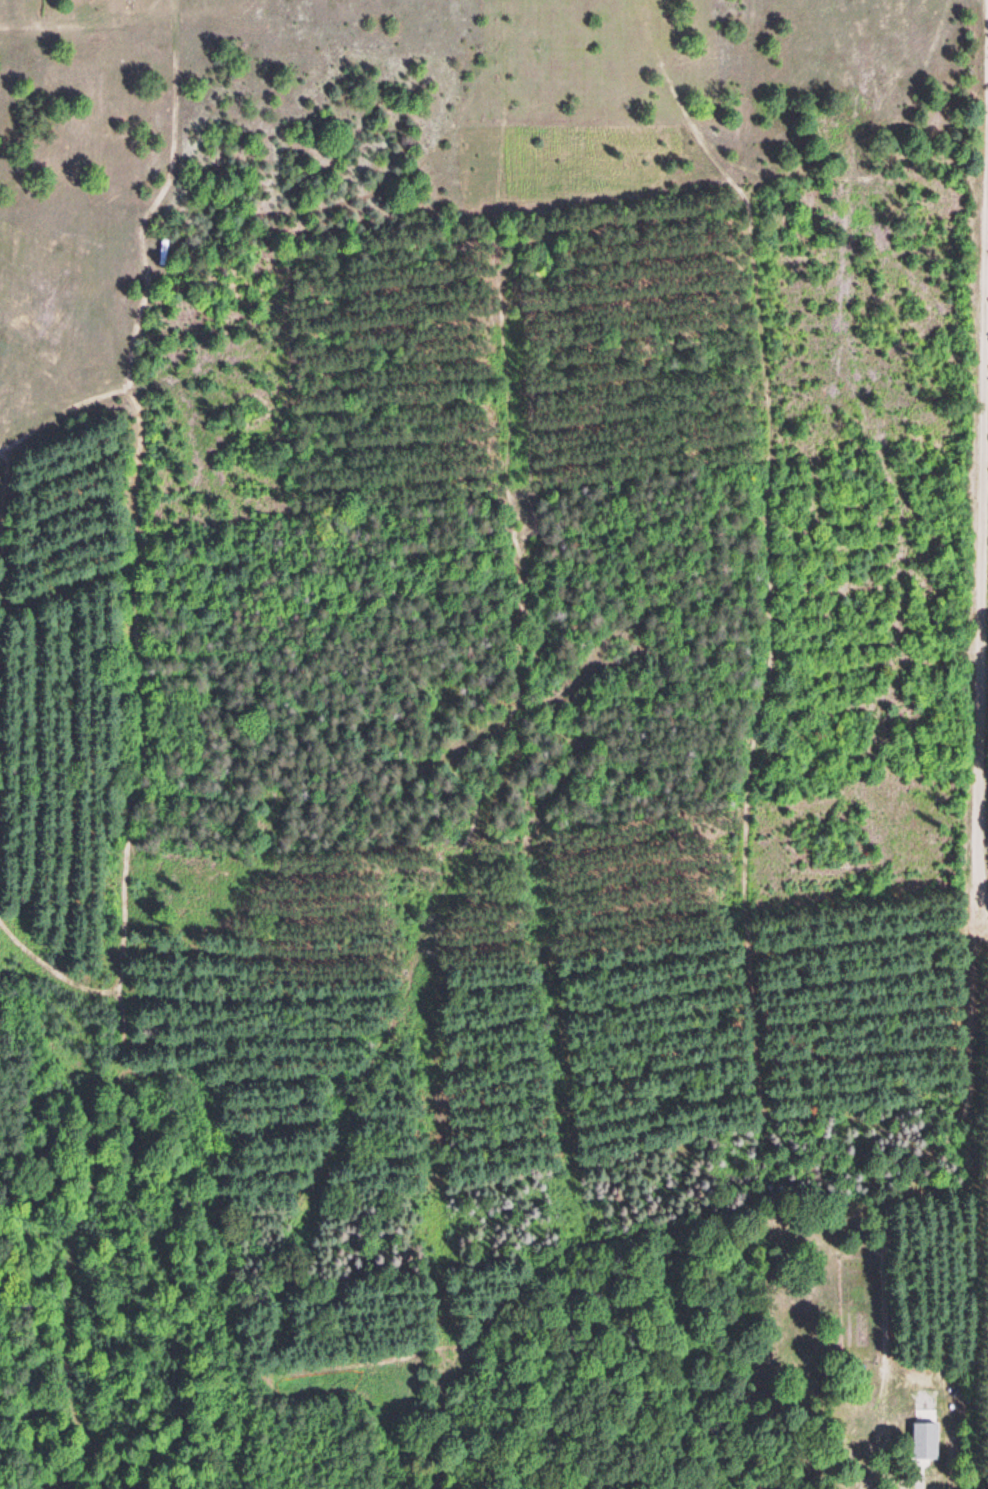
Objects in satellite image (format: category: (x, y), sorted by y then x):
road: (983, 571)

